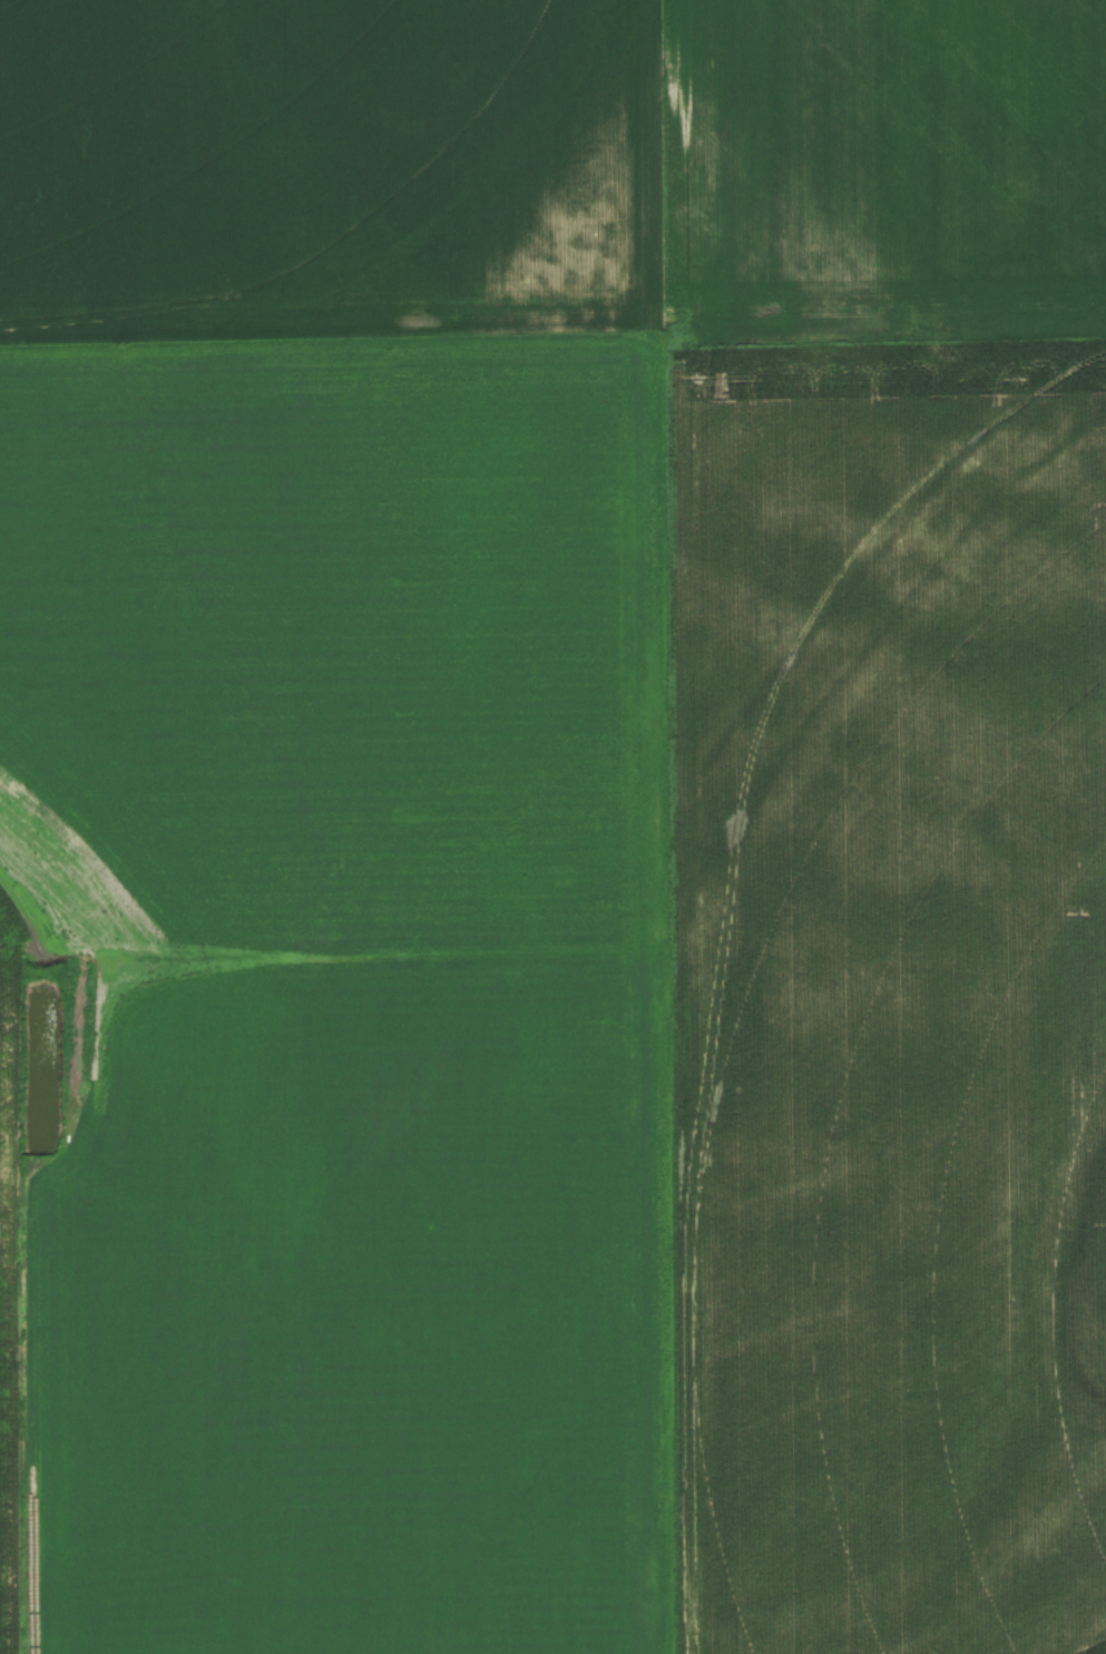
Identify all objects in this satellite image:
crop: (552, 826)

